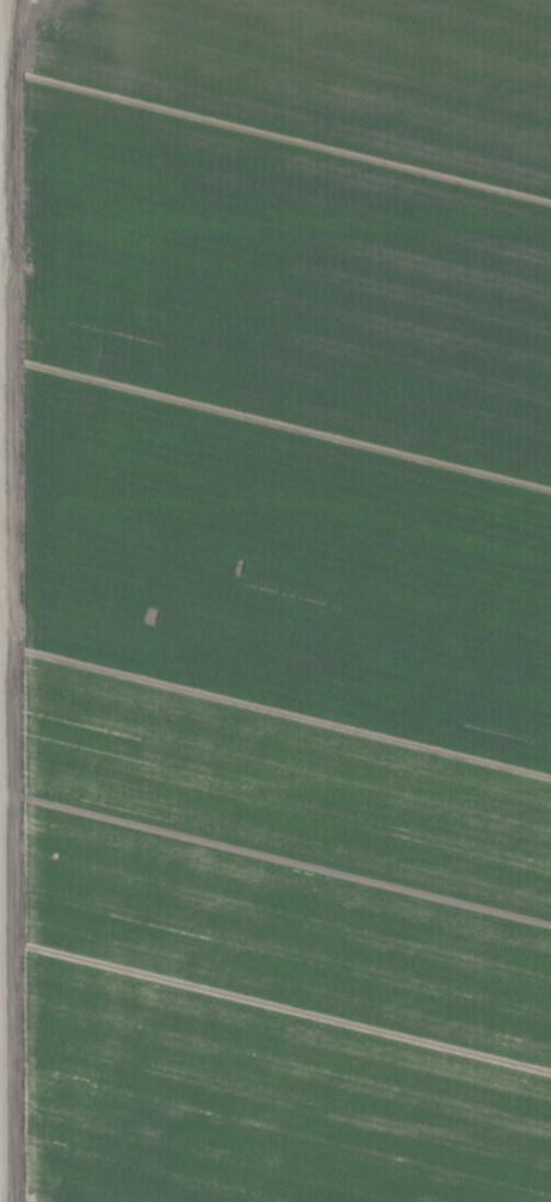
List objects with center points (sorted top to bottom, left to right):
crop: (275, 601)

